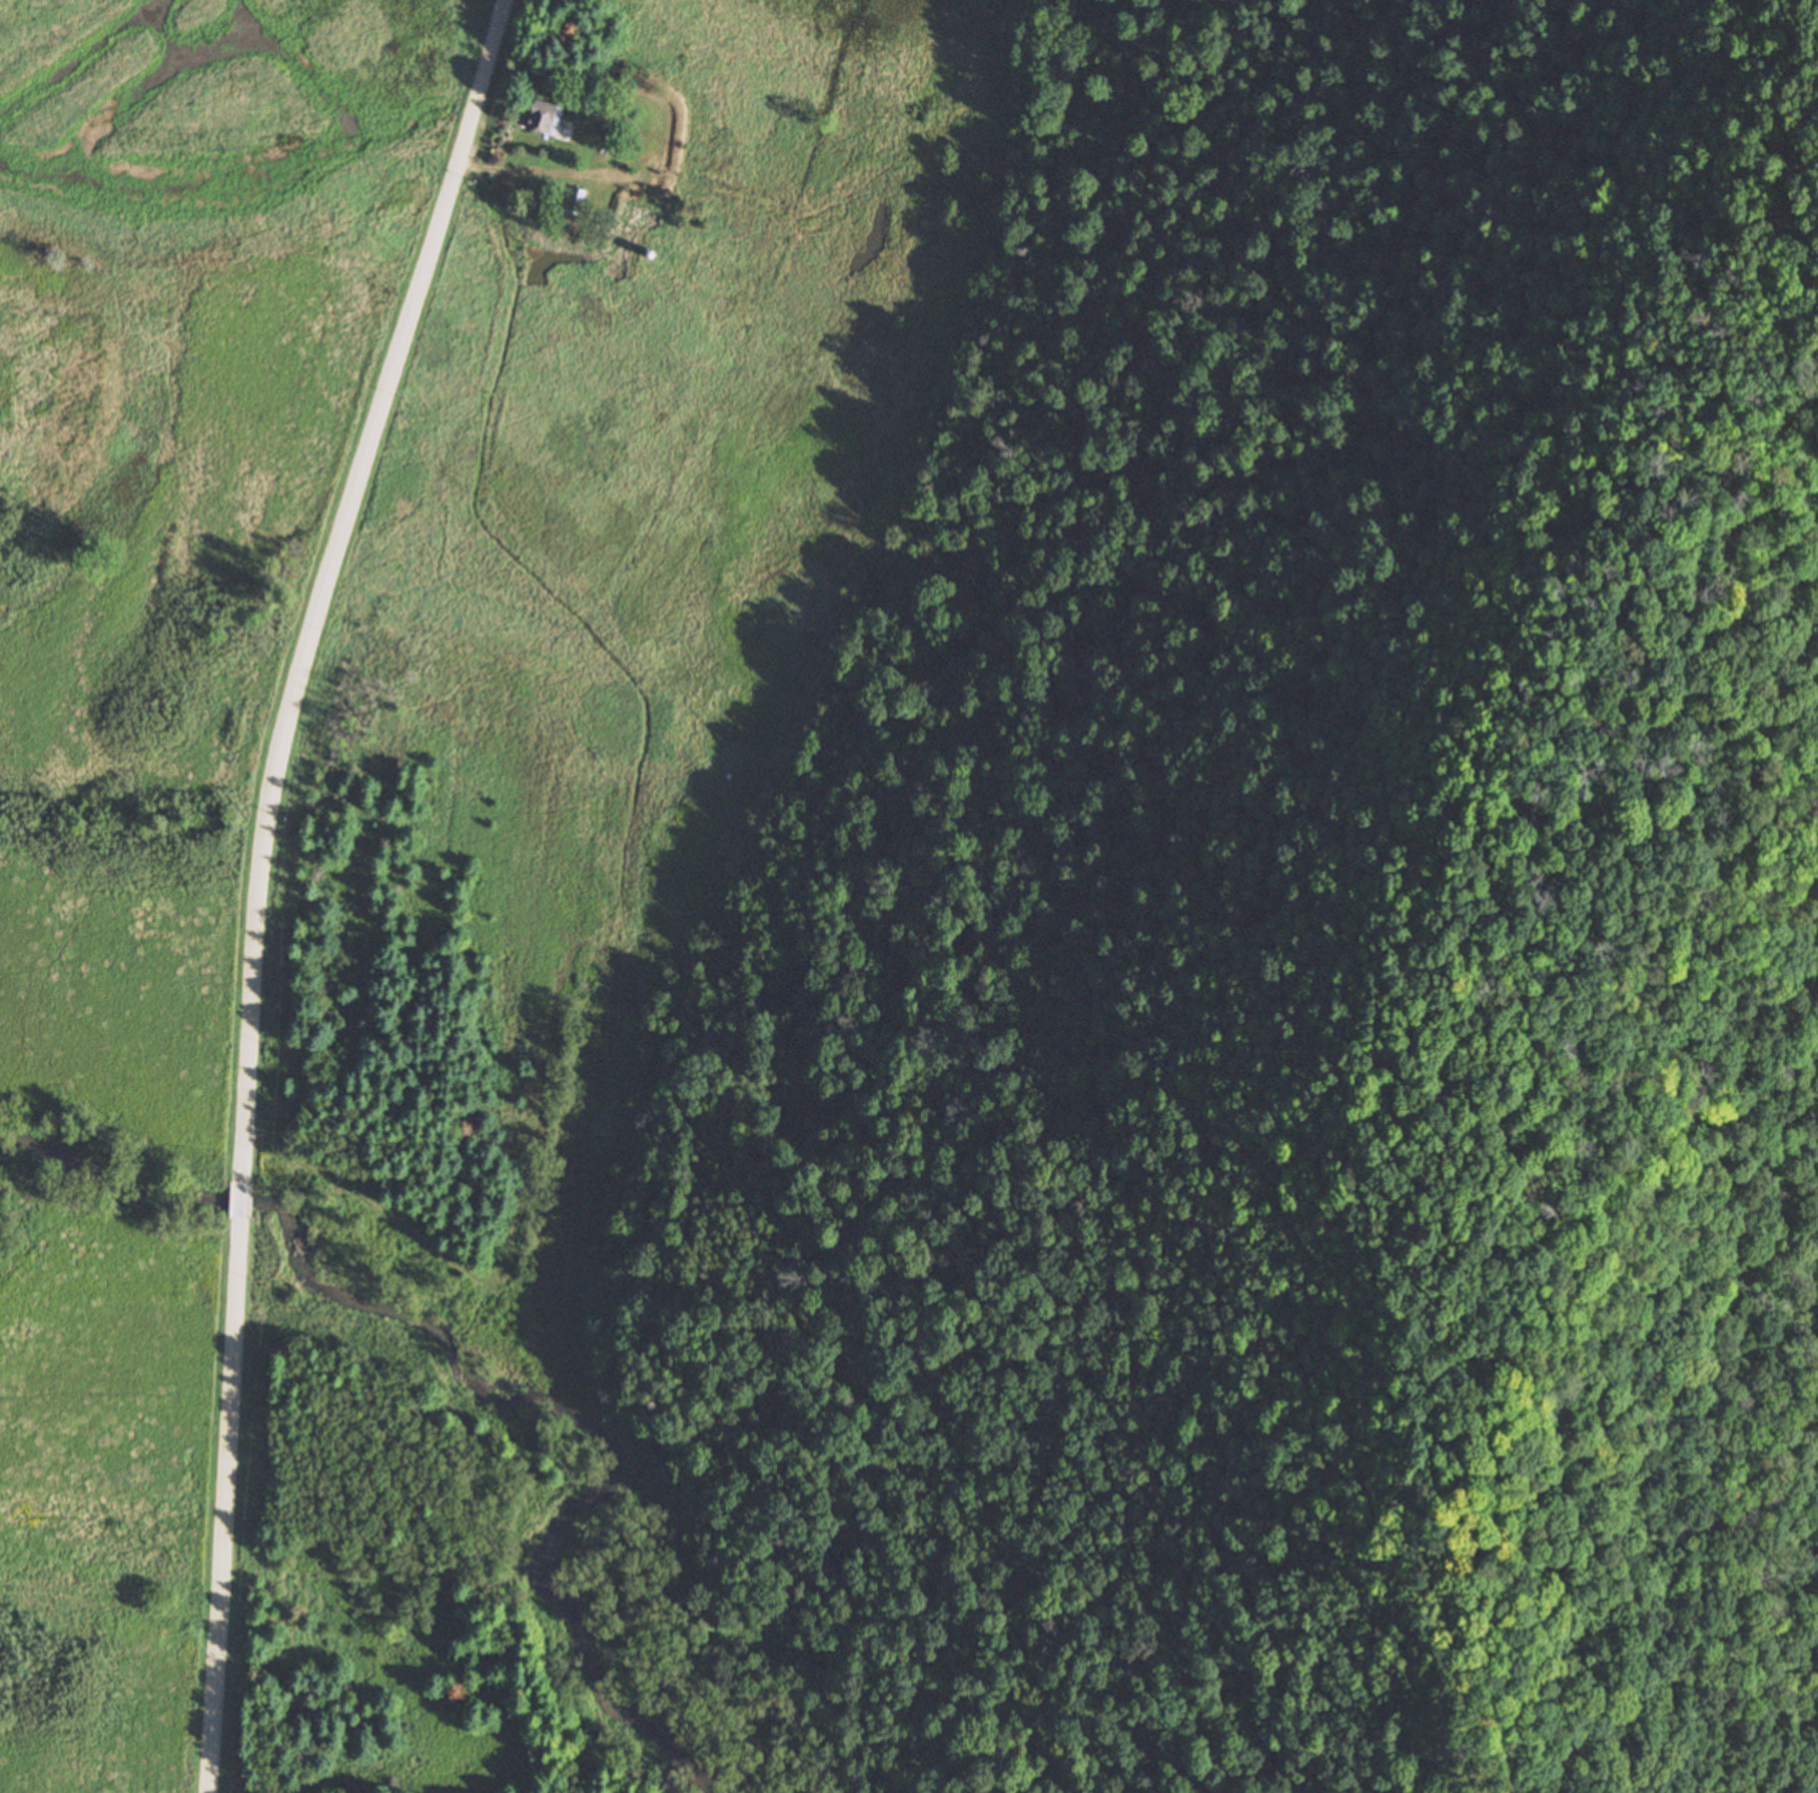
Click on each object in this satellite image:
building: (542, 116)
building: (577, 202)
road: (262, 879)

